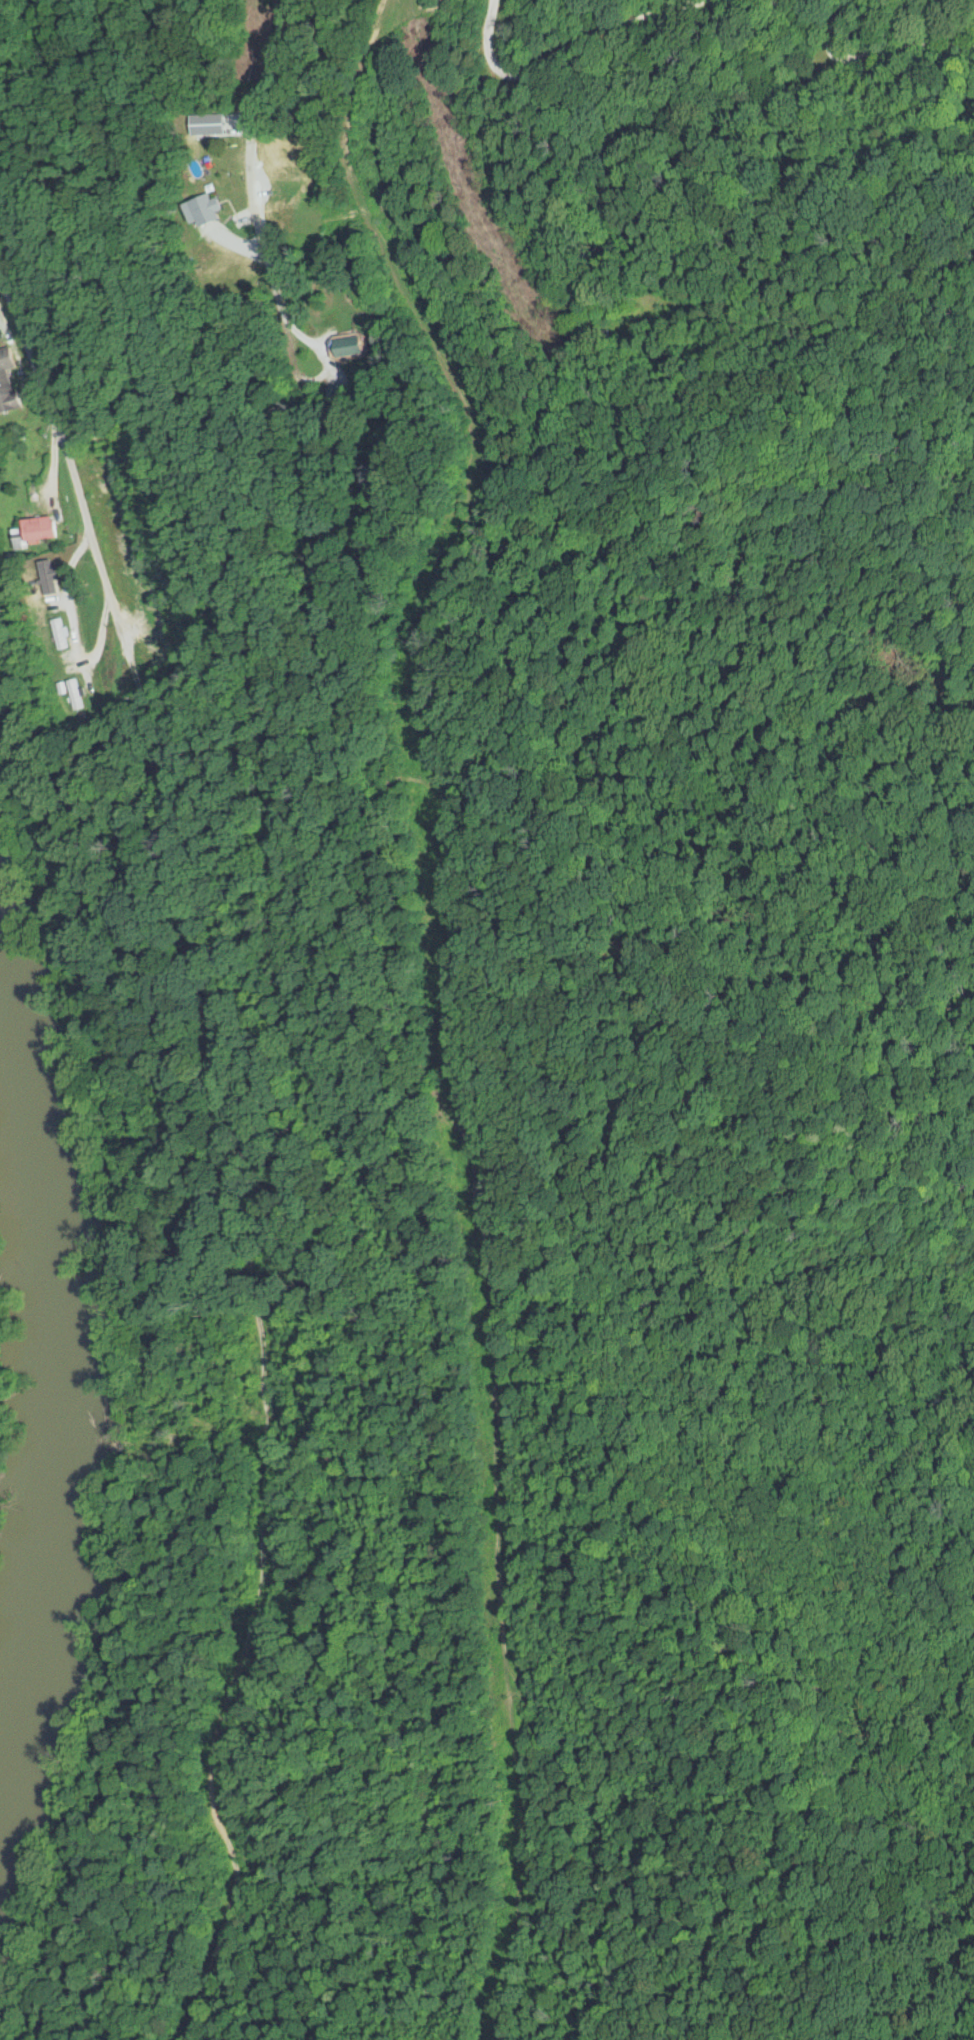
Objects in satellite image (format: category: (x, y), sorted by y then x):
road: (251, 124)
road: (284, 147)
building: (206, 214)
building: (353, 347)
building: (8, 389)
road: (73, 470)
building: (36, 532)
building: (48, 577)
building: (60, 634)
building: (75, 694)
river: (48, 1407)

